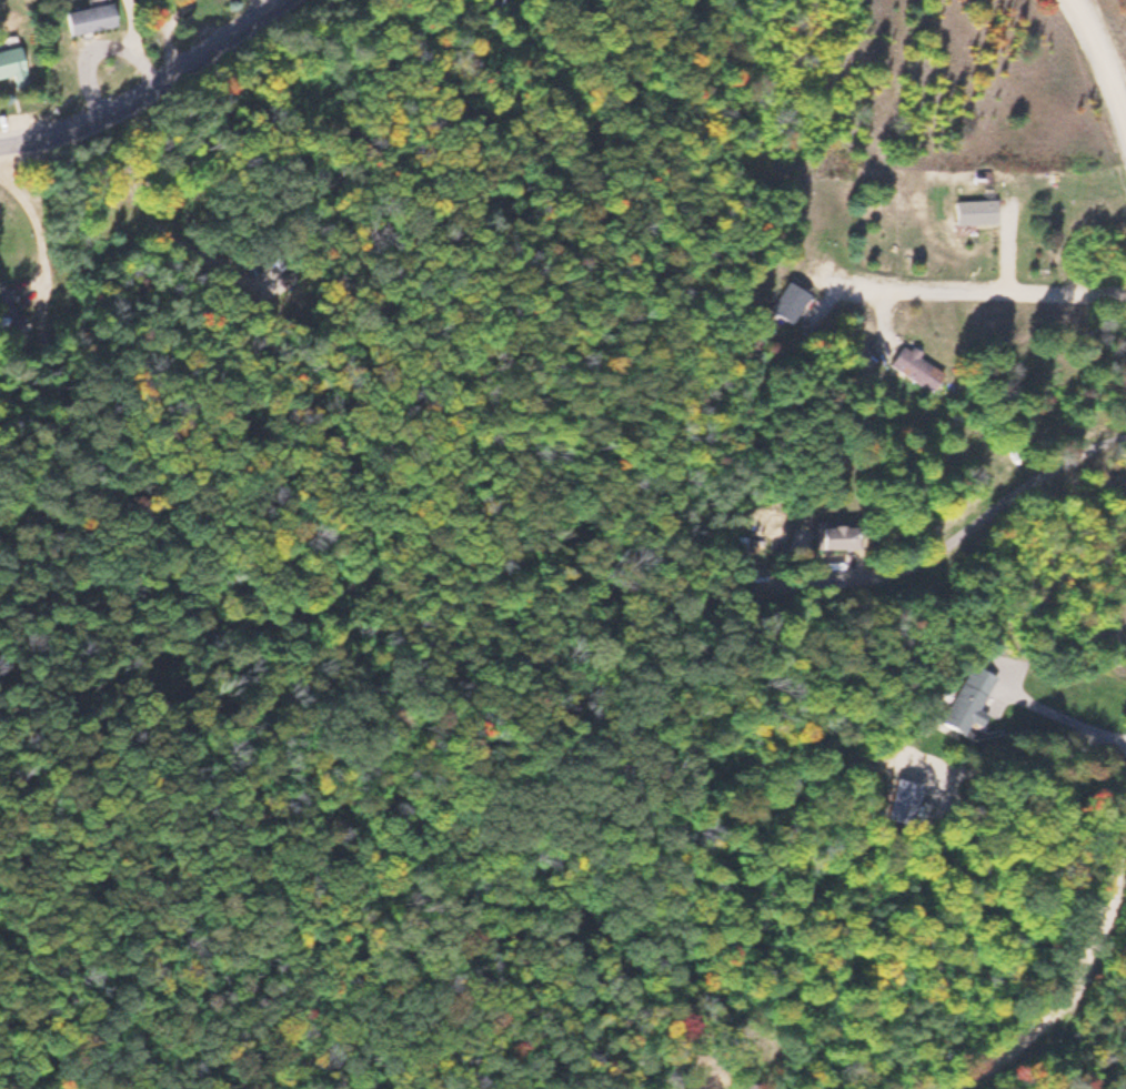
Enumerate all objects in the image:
building: (88, 17)
road: (1105, 44)
building: (12, 65)
road: (152, 93)
building: (977, 210)
road: (989, 292)
building: (791, 301)
building: (12, 315)
building: (918, 366)
building: (837, 533)
building: (967, 698)
road: (1066, 1001)
building: (751, 1086)

